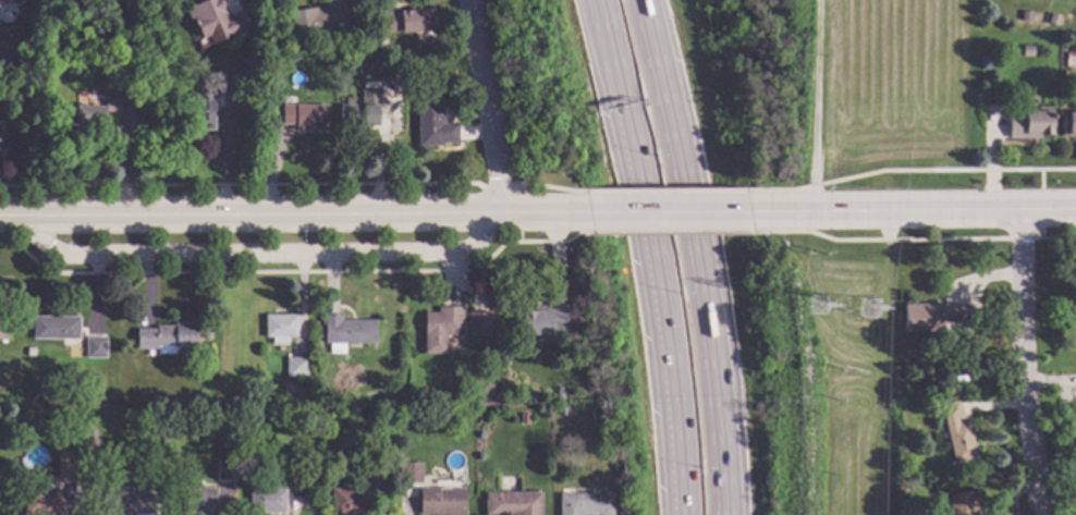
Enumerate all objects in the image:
building: (1026, 17)
building: (215, 20)
building: (319, 20)
building: (407, 22)
building: (268, 46)
building: (1027, 52)
building: (295, 58)
building: (376, 60)
building: (138, 71)
building: (247, 72)
building: (246, 86)
road: (490, 105)
road: (815, 106)
building: (359, 109)
building: (204, 111)
building: (96, 113)
building: (304, 118)
building: (1028, 124)
building: (433, 126)
building: (1069, 126)
road: (223, 148)
road: (384, 154)
road: (954, 209)
road: (672, 211)
road: (791, 211)
road: (297, 214)
road: (1040, 223)
road: (1059, 238)
road: (877, 241)
road: (256, 254)
road: (646, 255)
road: (707, 255)
power tower: (819, 307)
power tower: (873, 316)
building: (933, 317)
building: (543, 321)
building: (473, 322)
building: (56, 328)
building: (280, 328)
building: (3, 329)
building: (441, 329)
building: (346, 333)
building: (207, 334)
building: (168, 339)
building: (95, 347)
road: (1024, 361)
building: (921, 363)
building: (931, 365)
building: (135, 367)
building: (296, 368)
building: (559, 393)
building: (561, 412)
building: (587, 416)
building: (524, 419)
building: (957, 433)
building: (148, 453)
building: (62, 457)
building: (224, 471)
building: (411, 473)
building: (65, 474)
building: (285, 475)
building: (376, 479)
building: (302, 487)
building: (231, 488)
building: (123, 500)
building: (441, 500)
building: (197, 501)
building: (267, 501)
building: (347, 502)
building: (41, 503)
building: (963, 503)
building: (512, 504)
building: (585, 504)
building: (231, 506)

